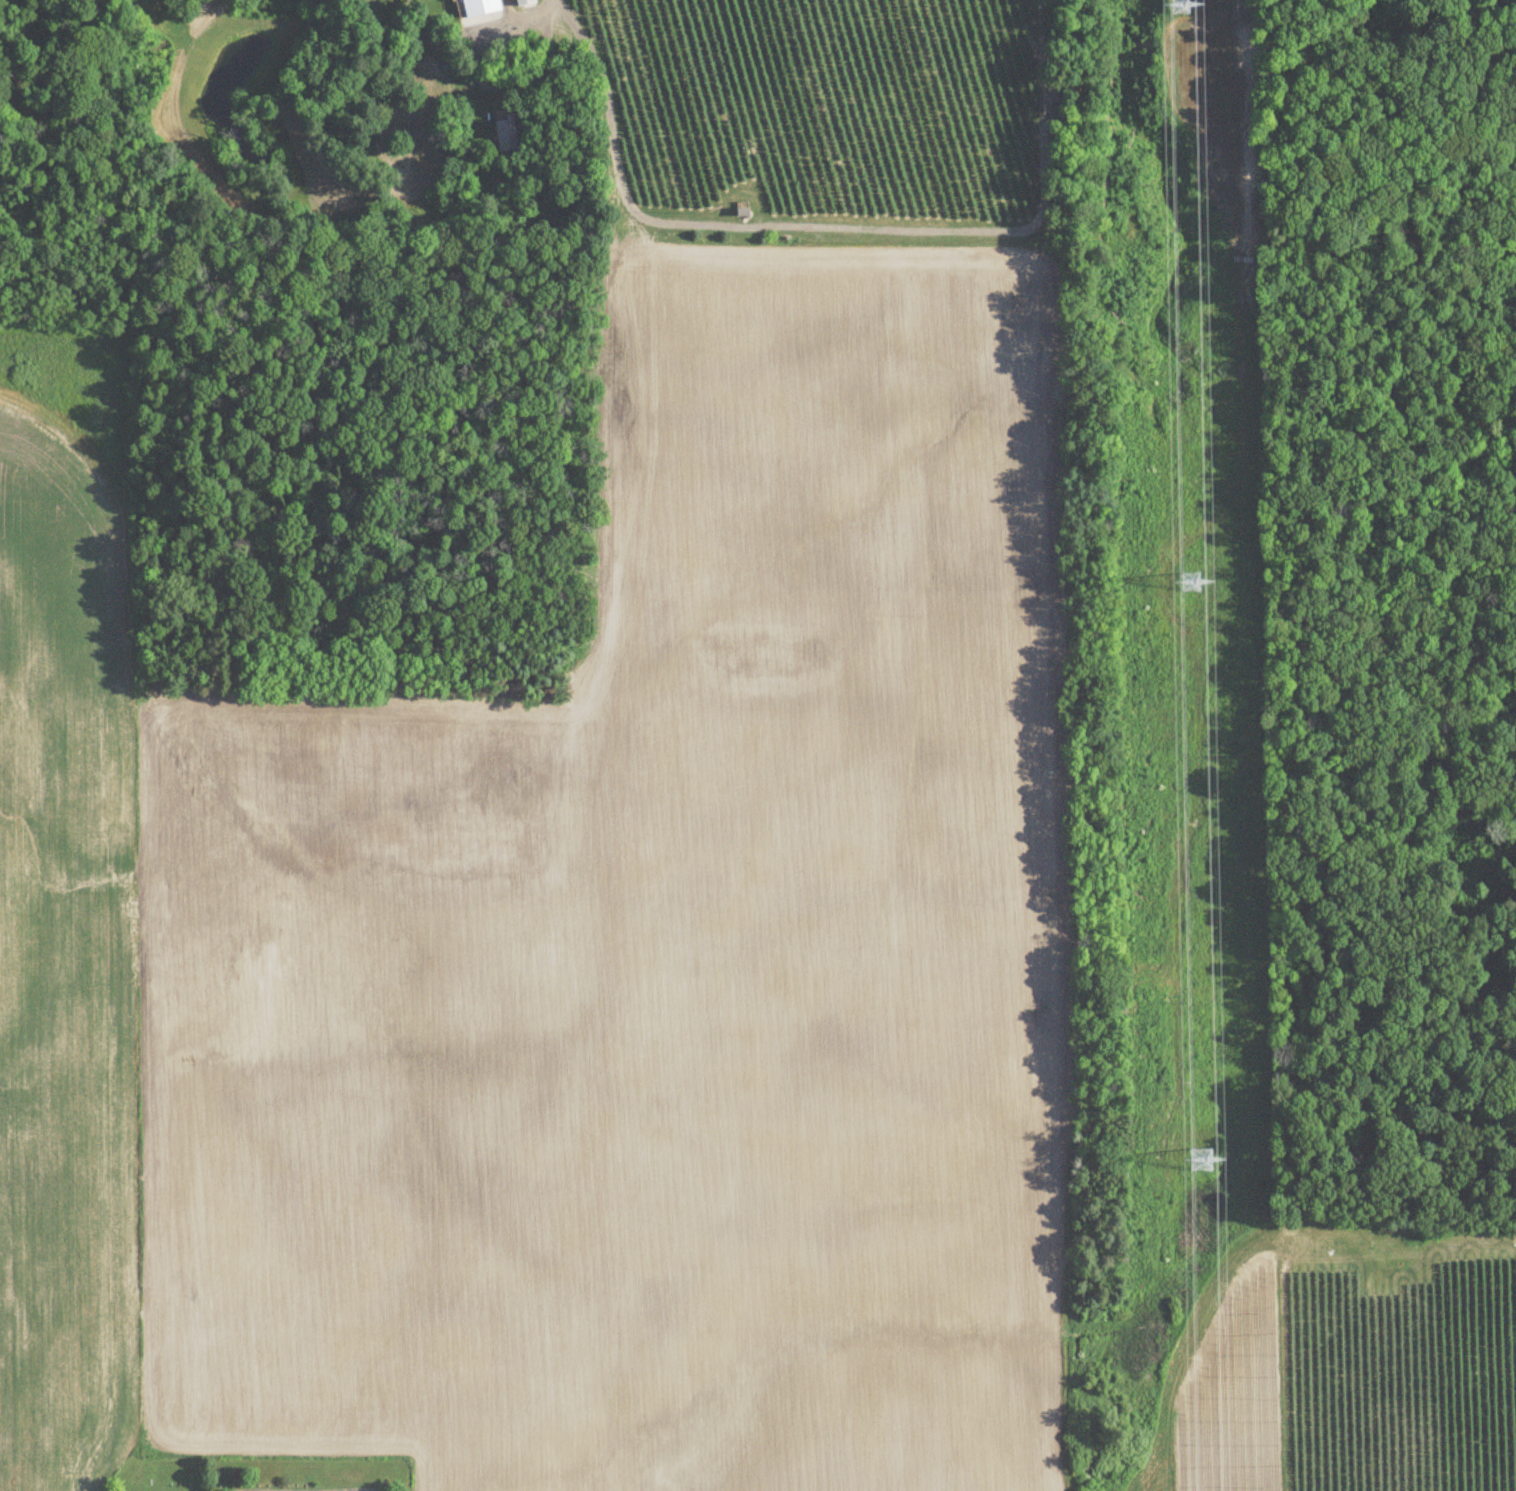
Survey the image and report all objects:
building: (524, 3)
building: (478, 8)
building: (505, 125)
power tower: (1184, 570)
power tower: (1191, 1148)
road: (305, 1489)

